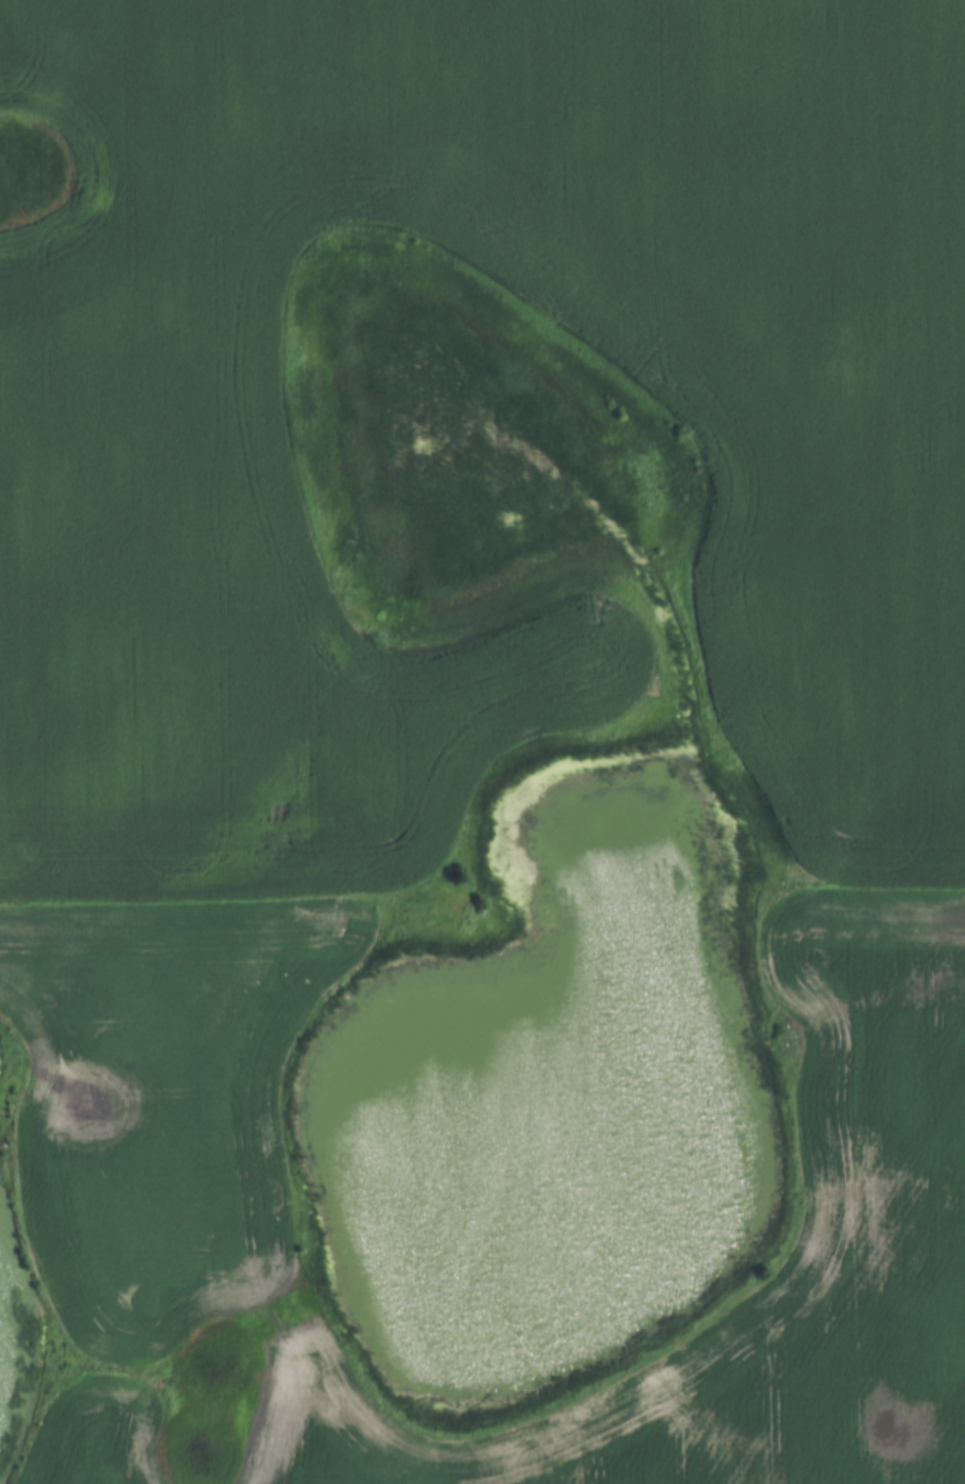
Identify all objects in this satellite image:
road: (134, 87)

